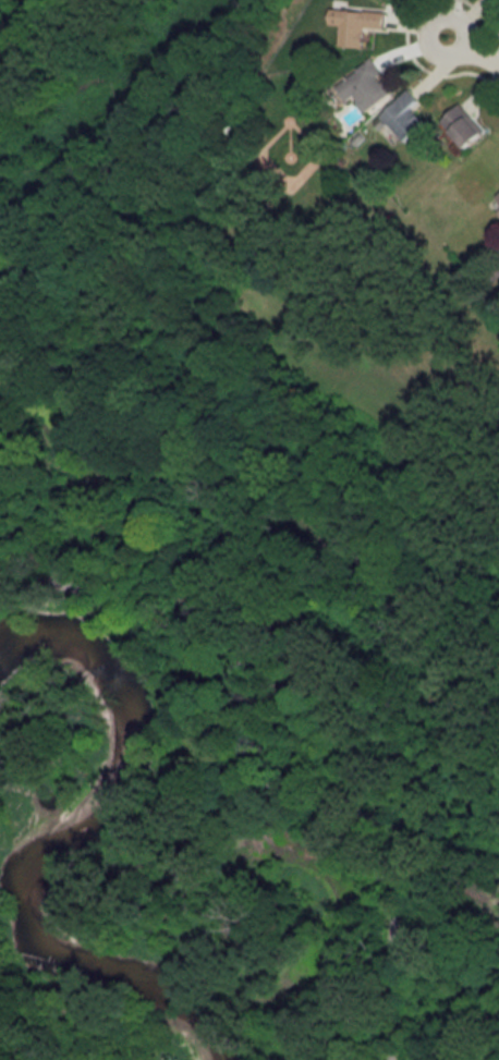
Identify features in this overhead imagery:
road: (7, 10)
building: (354, 25)
road: (472, 53)
building: (365, 86)
building: (402, 115)
building: (461, 129)
building: (498, 197)
road: (251, 451)
park: (245, 566)
road: (270, 784)
river: (46, 836)
park: (7, 1052)

